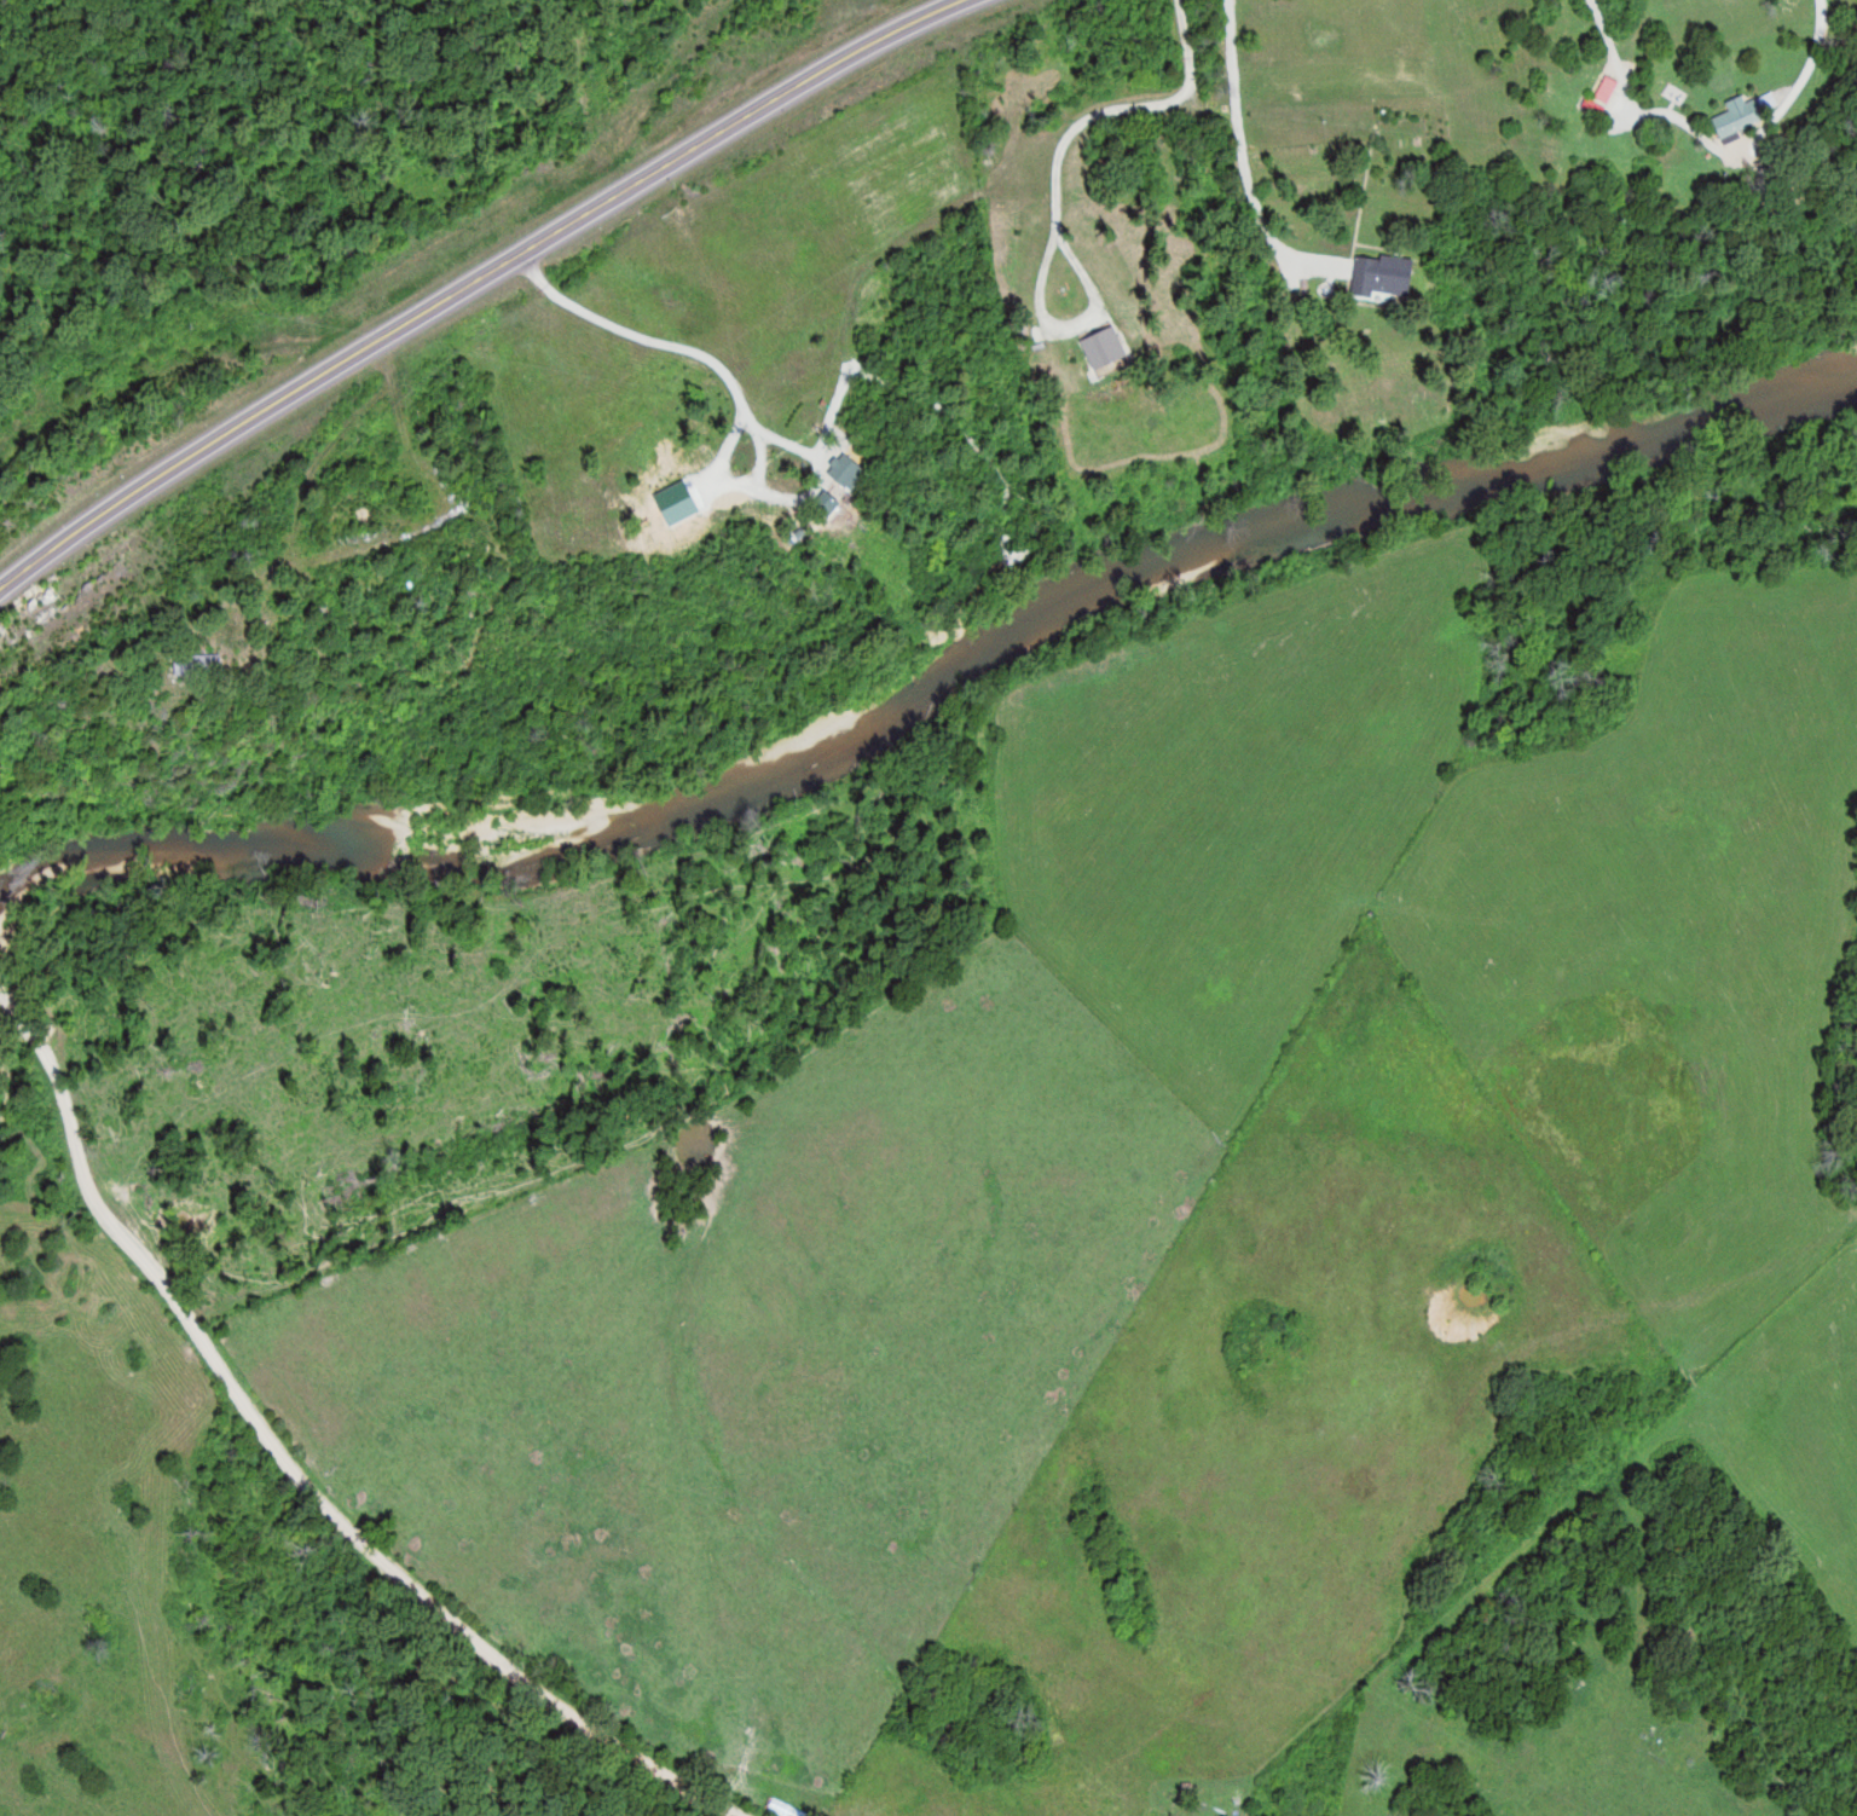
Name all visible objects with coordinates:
road: (1804, 83)
building: (1610, 88)
building: (1598, 105)
building: (1746, 112)
road: (1238, 179)
building: (1383, 274)
road: (480, 281)
road: (698, 364)
building: (860, 469)
river: (933, 676)
road: (296, 1465)

